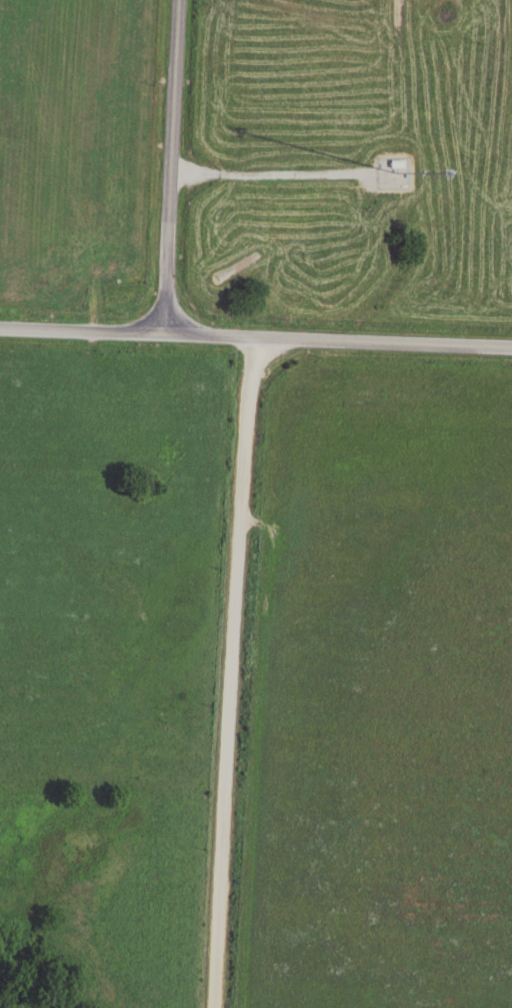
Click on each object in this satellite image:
road: (168, 167)
road: (269, 173)
road: (83, 332)
road: (339, 341)
road: (86, 402)
road: (229, 673)

